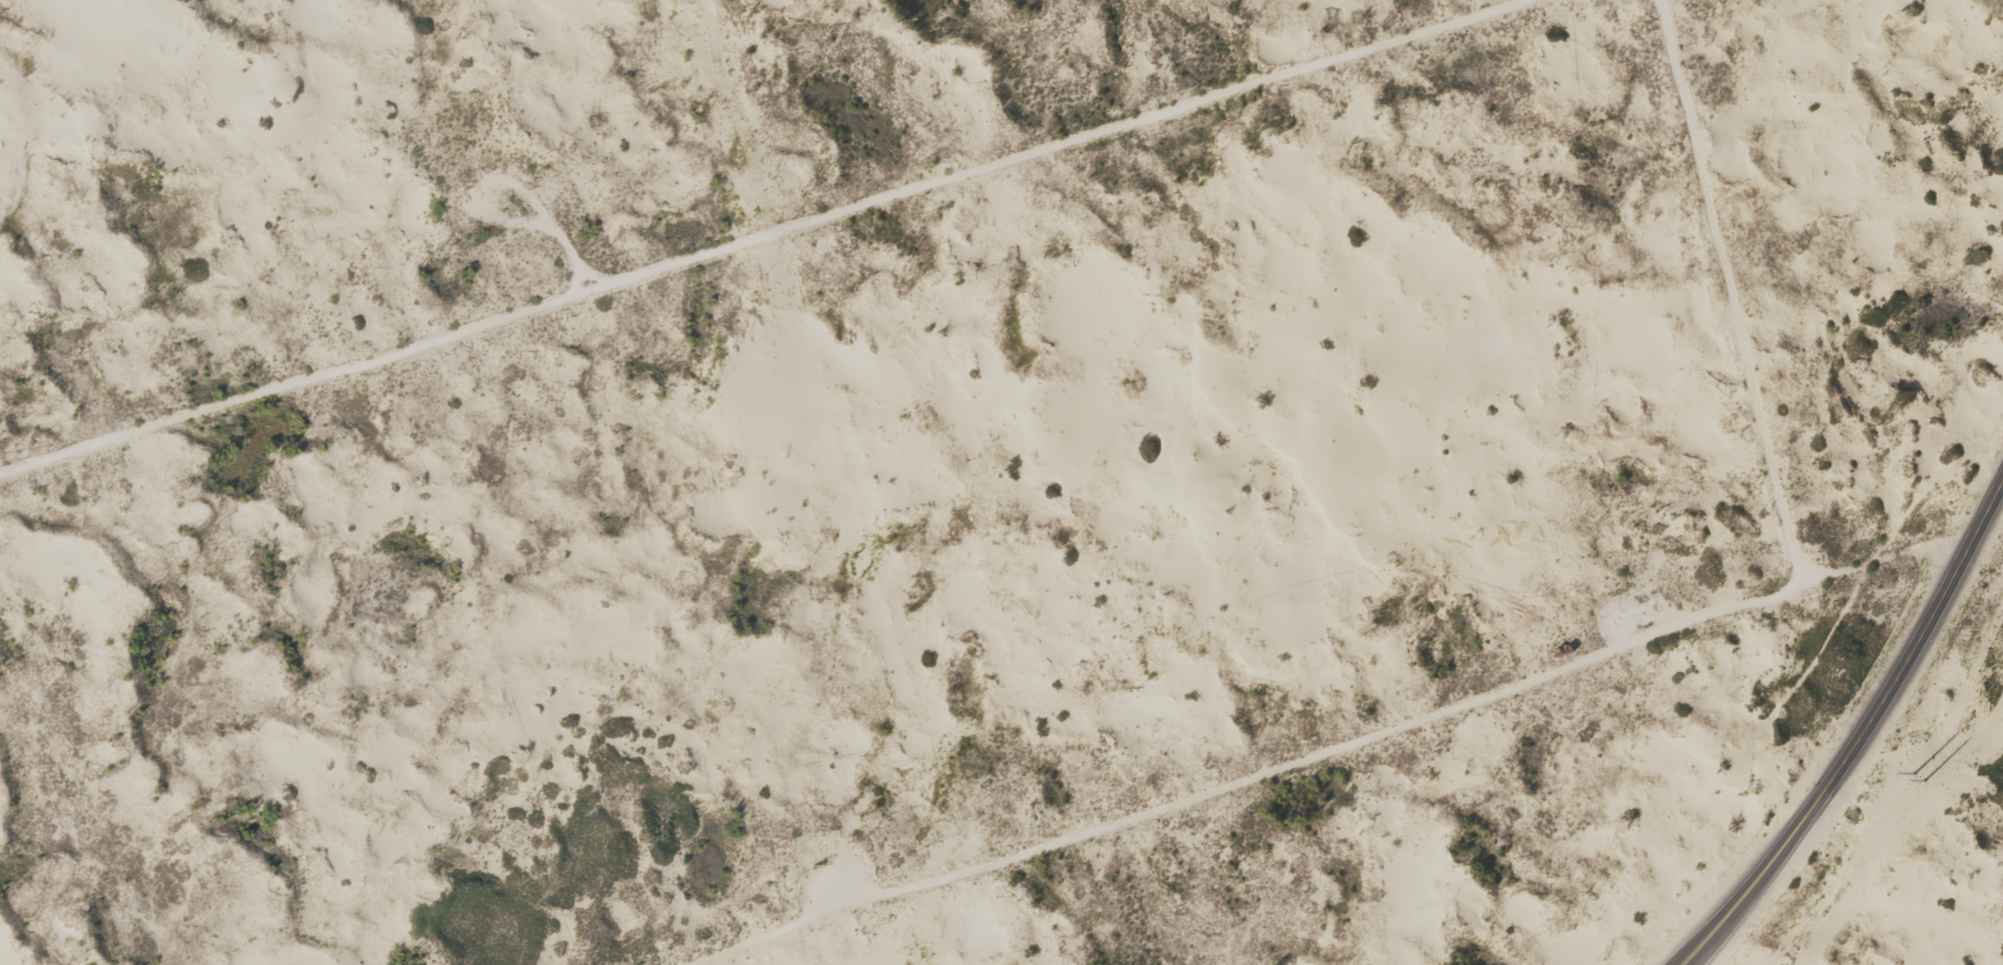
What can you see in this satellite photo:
road: (1864, 733)
power tower: (1938, 793)

